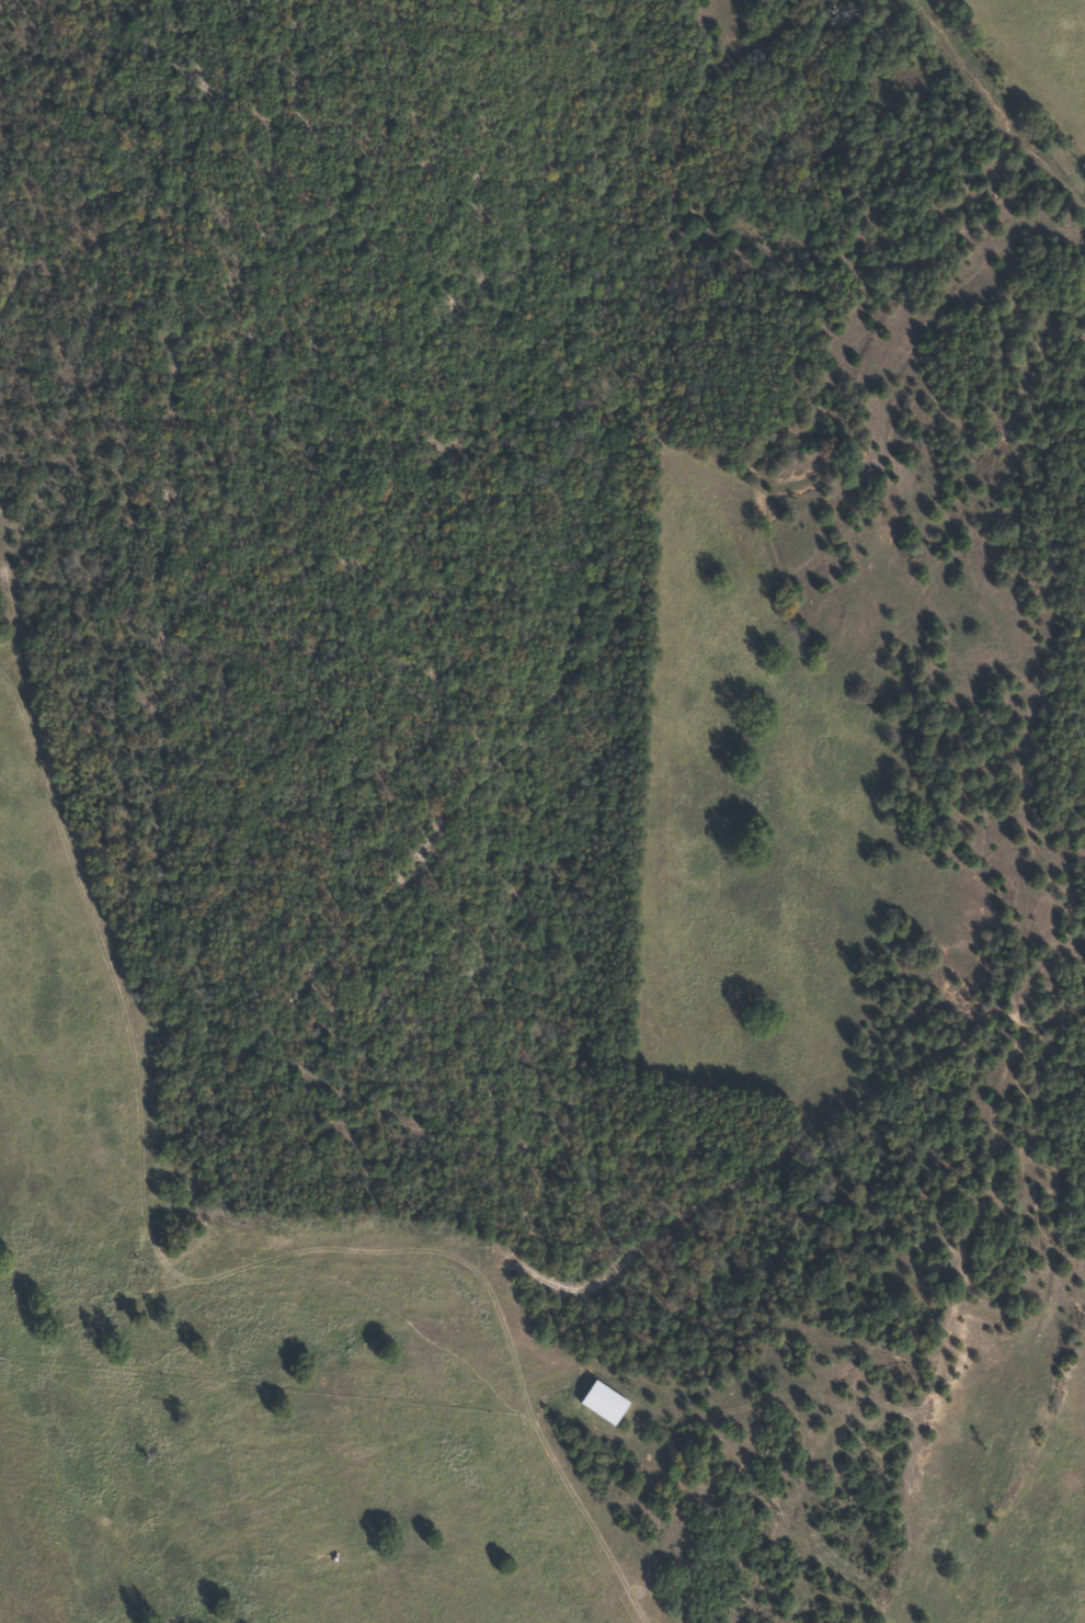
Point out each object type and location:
building: (598, 1403)

